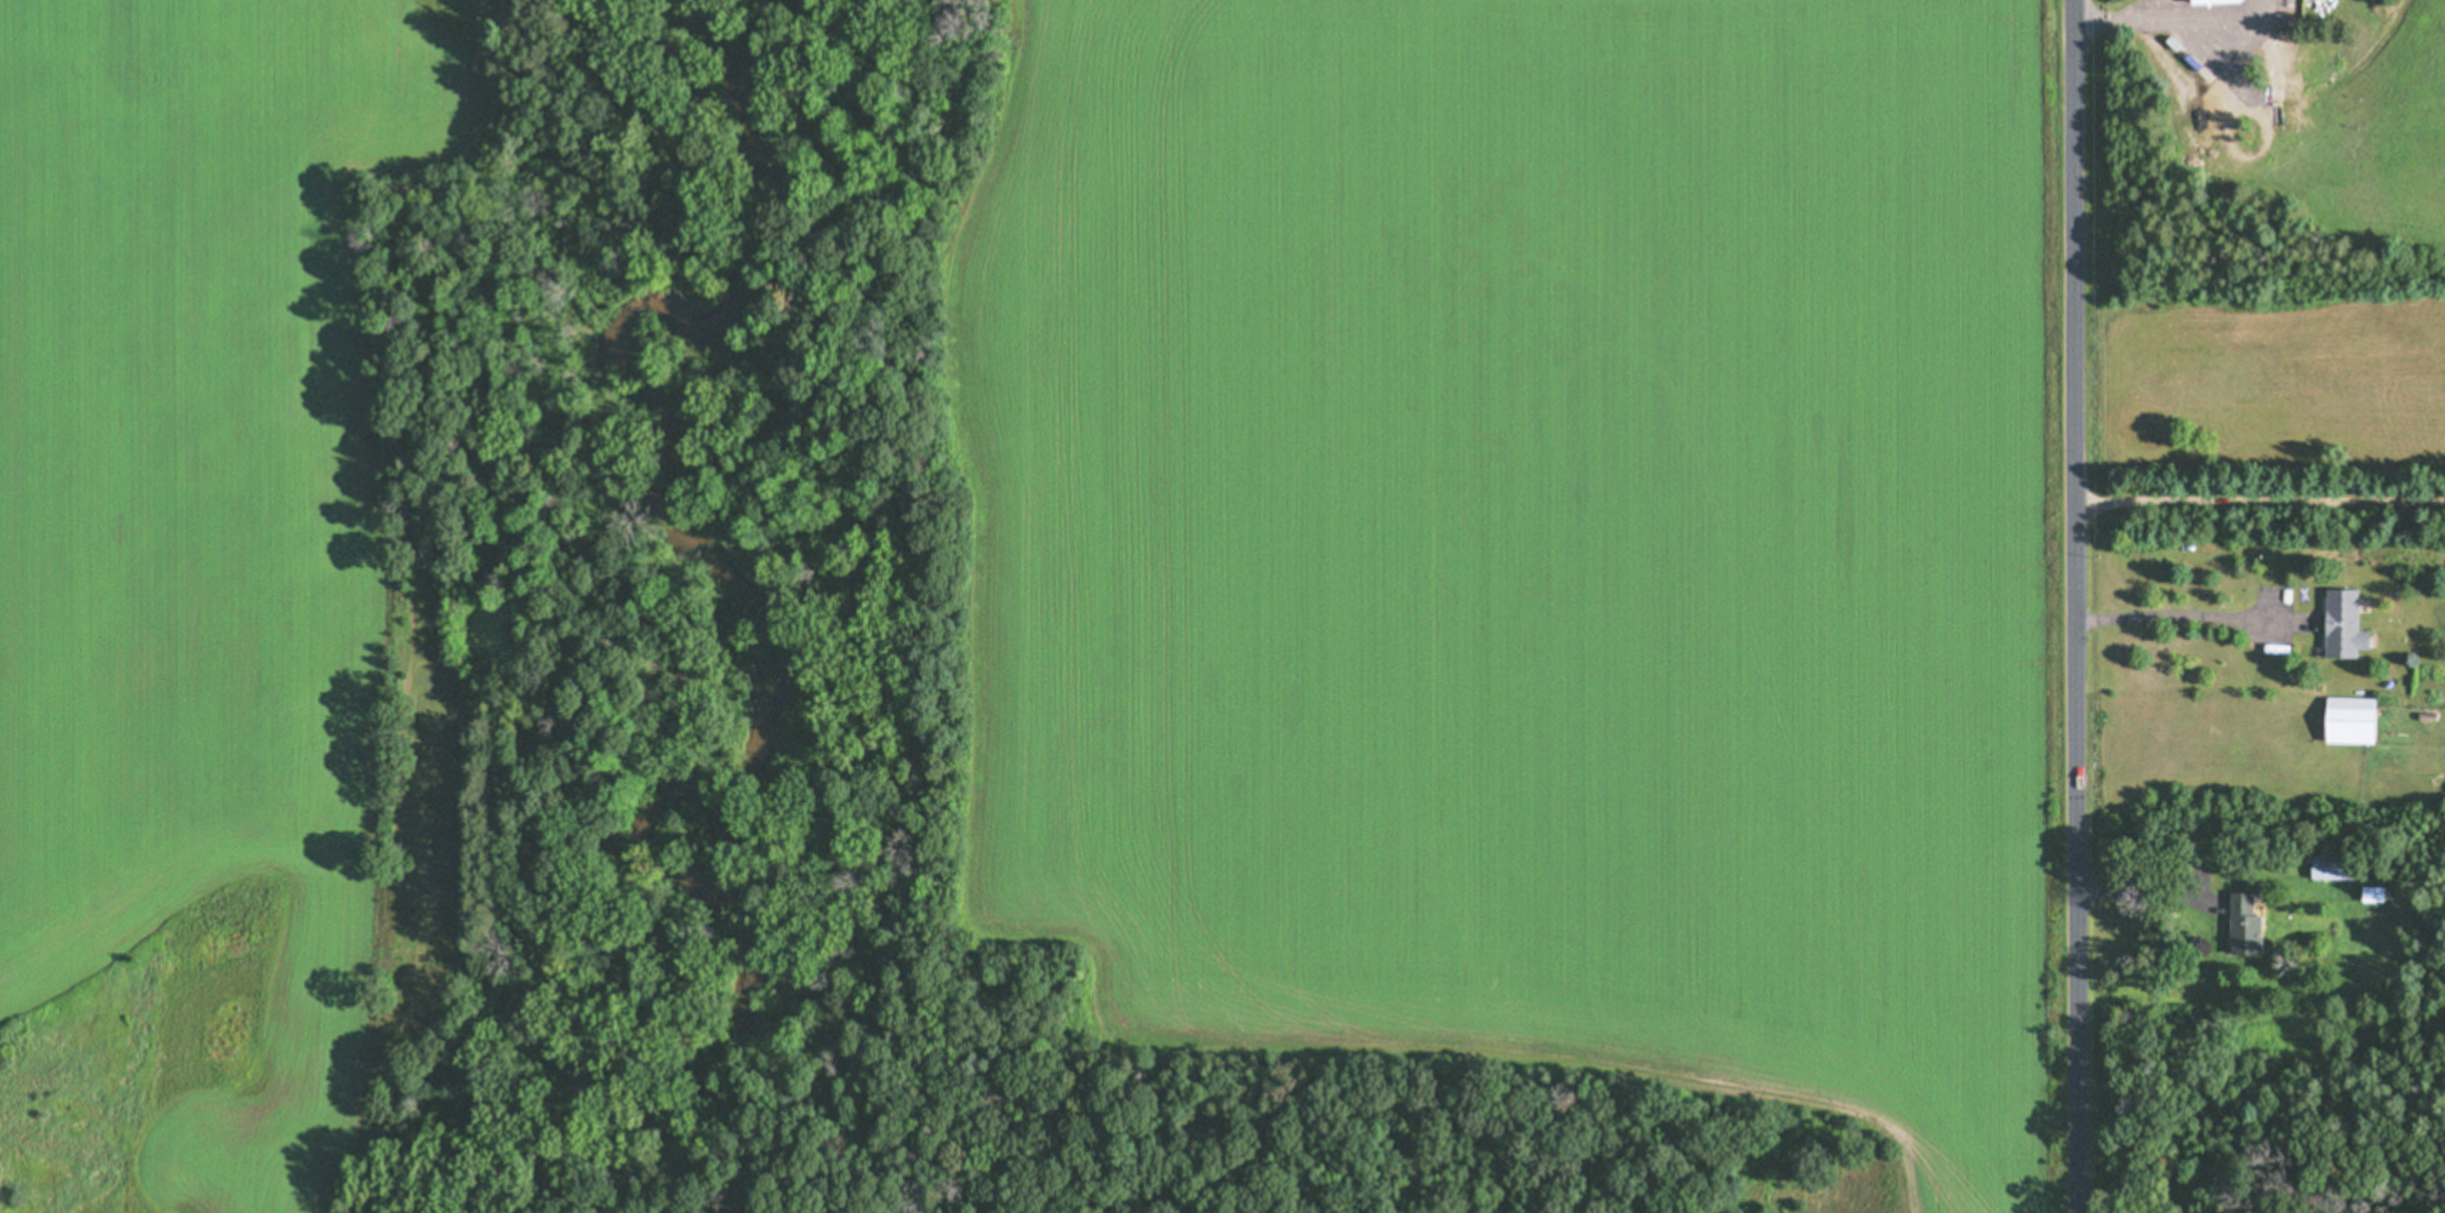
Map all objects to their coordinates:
building: (2210, 1)
crop: (1527, 549)
crop: (199, 580)
road: (2072, 606)
building: (2338, 624)
building: (2346, 725)
building: (2326, 866)
building: (2239, 925)

